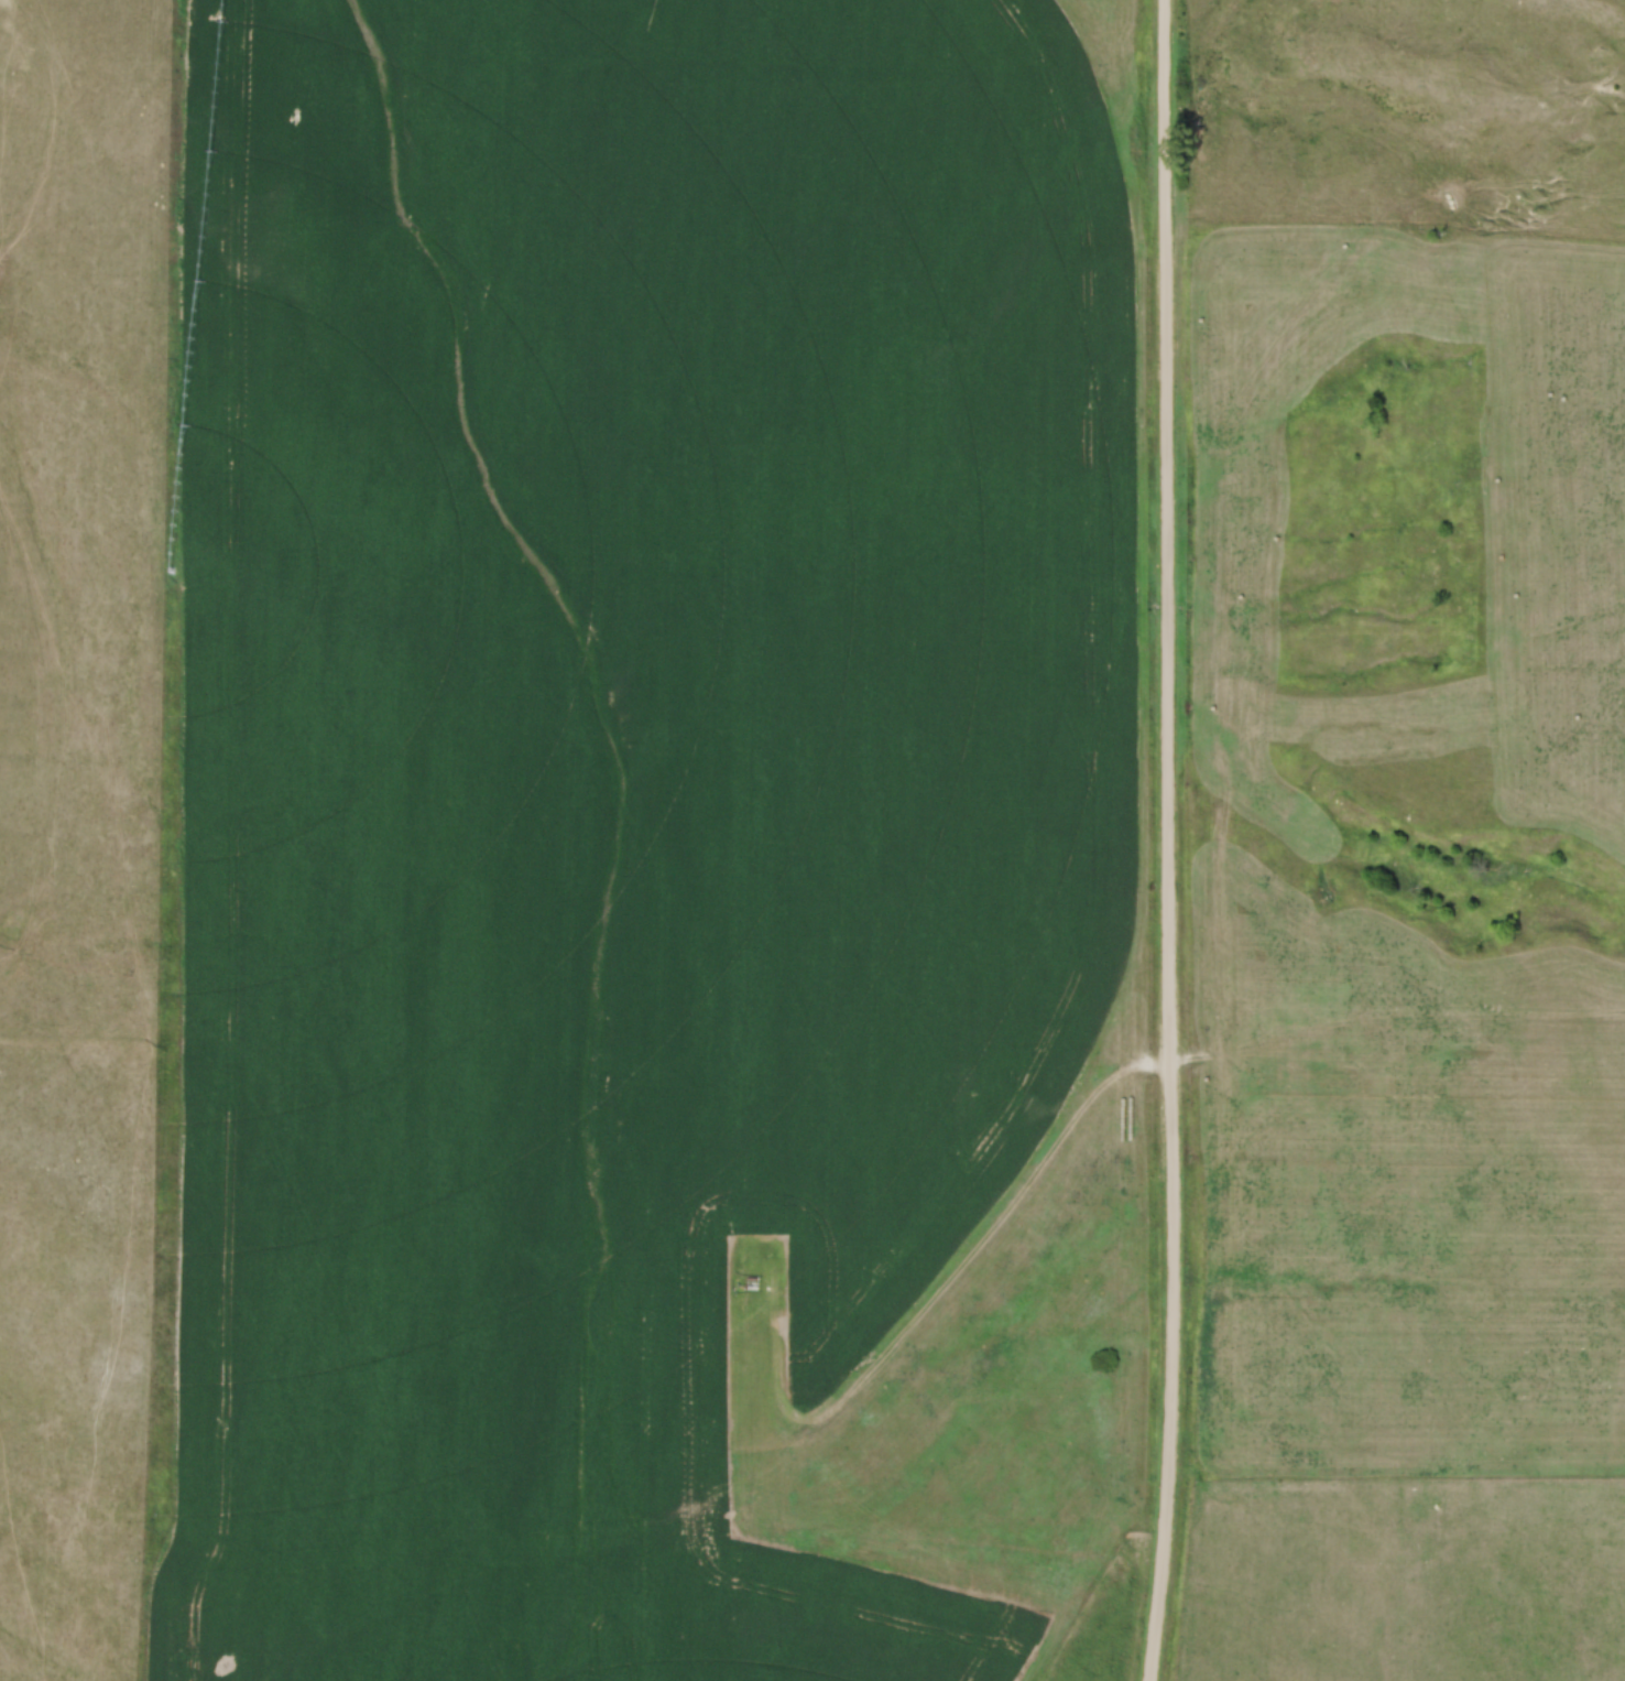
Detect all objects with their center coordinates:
road: (1170, 840)

